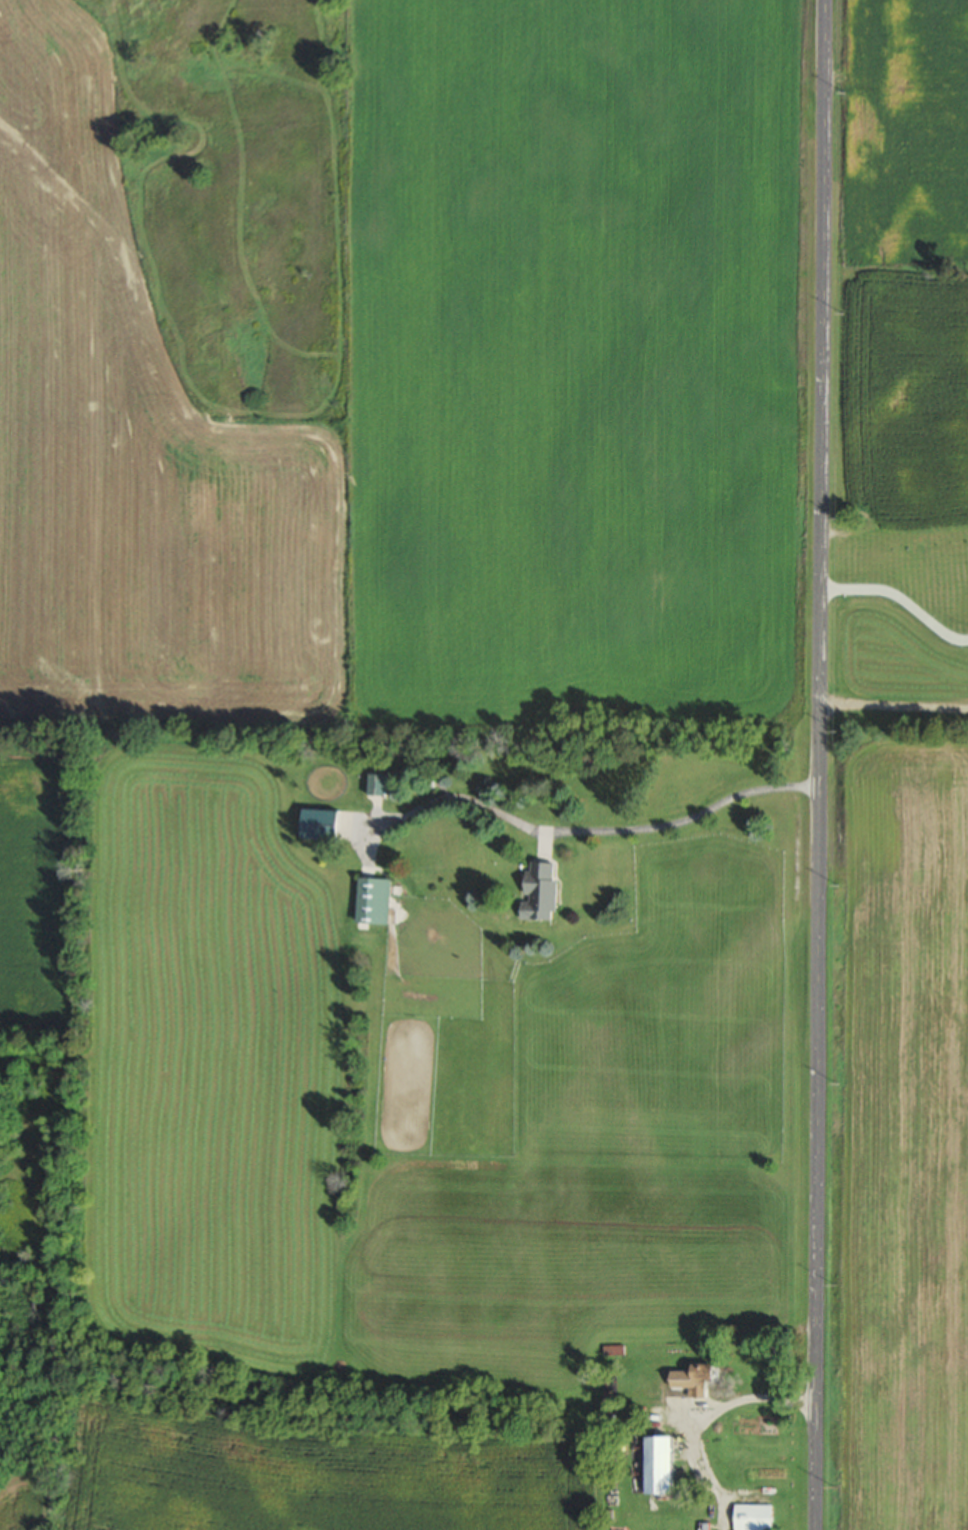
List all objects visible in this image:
road: (900, 596)
road: (894, 704)
road: (819, 764)
building: (377, 782)
building: (540, 889)
building: (373, 898)
building: (611, 1348)
building: (693, 1377)
building: (659, 1463)
building: (748, 1514)

